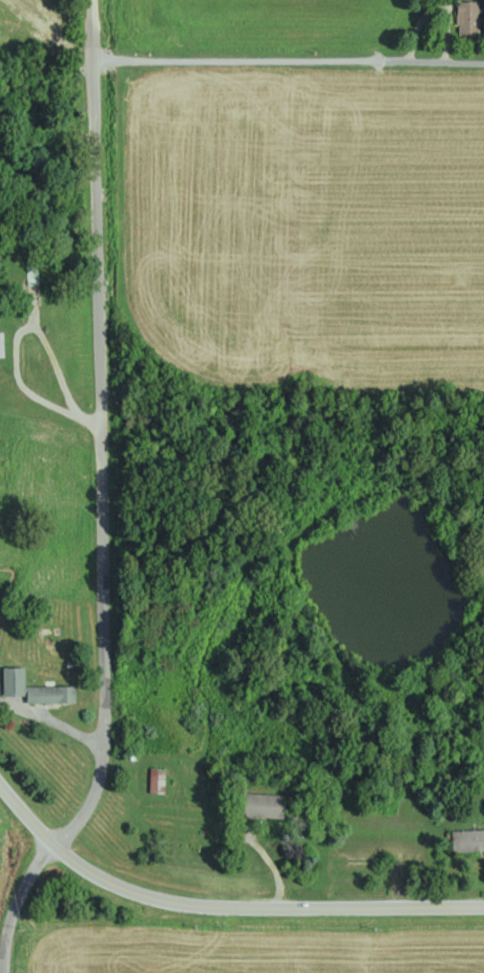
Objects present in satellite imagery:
building: (467, 19)
road: (289, 59)
building: (32, 270)
building: (1, 345)
road: (104, 373)
building: (35, 688)
building: (157, 780)
building: (262, 805)
building: (467, 840)
road: (48, 854)
road: (219, 907)

